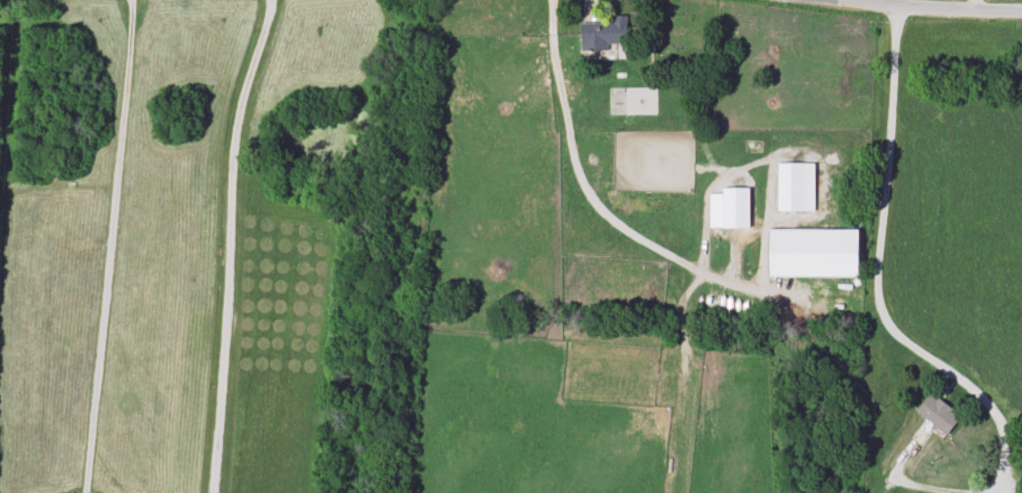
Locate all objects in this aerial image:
road: (848, 1)
road: (975, 4)
road: (920, 5)
building: (603, 34)
road: (589, 196)
road: (229, 243)
road: (108, 246)
road: (875, 275)
building: (938, 415)
road: (916, 484)

